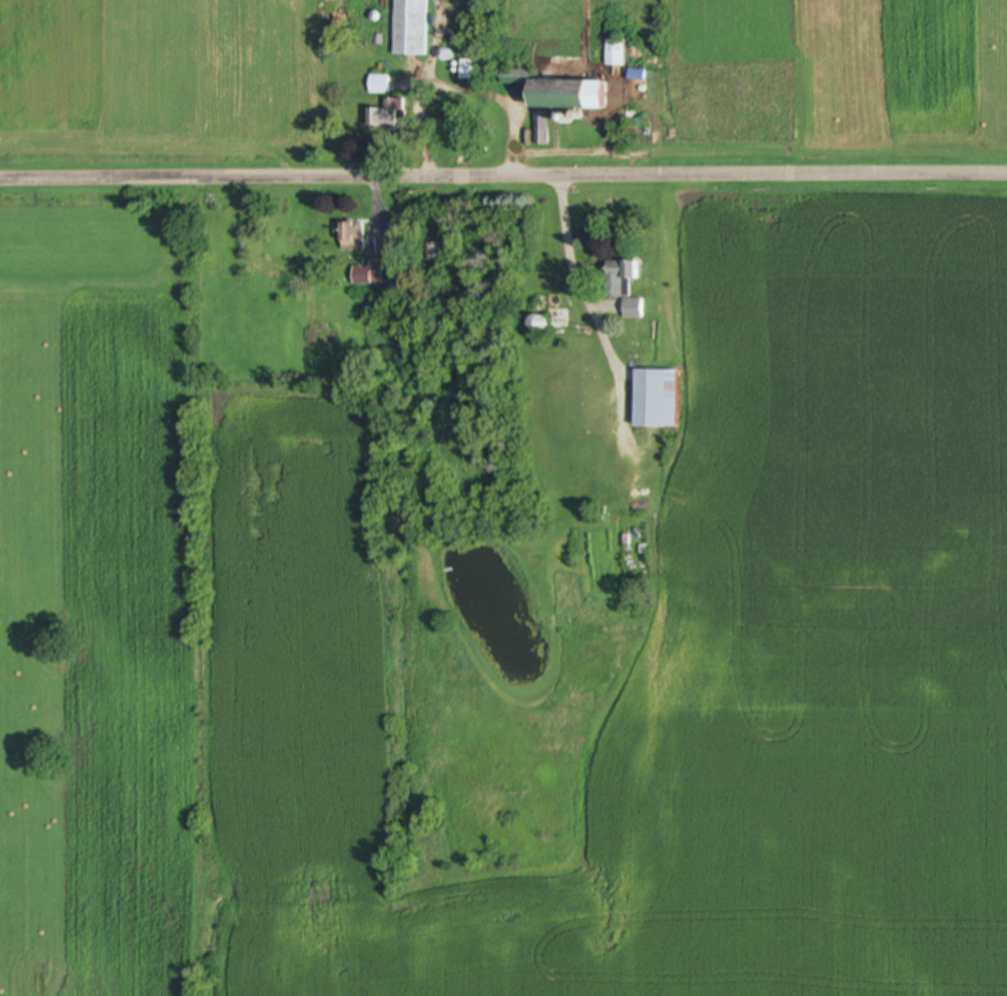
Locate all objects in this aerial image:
building: (409, 28)
building: (614, 54)
building: (465, 71)
building: (377, 85)
building: (557, 93)
building: (385, 116)
building: (540, 129)
road: (503, 180)
building: (349, 238)
building: (433, 253)
building: (367, 275)
building: (618, 279)
road: (587, 308)
building: (631, 310)
building: (546, 319)
building: (653, 399)

